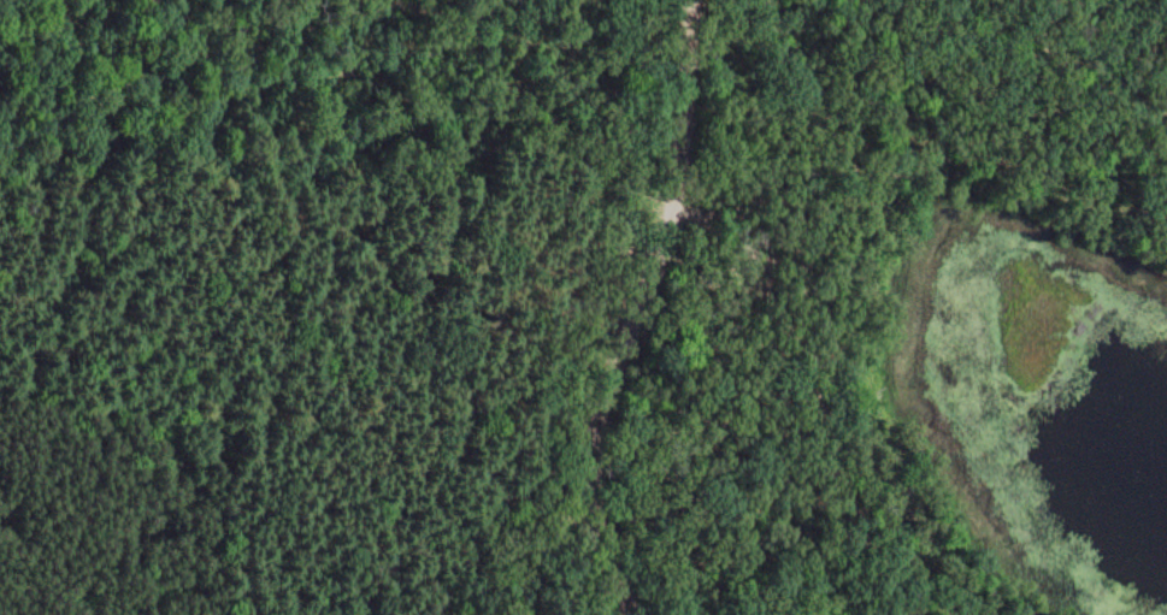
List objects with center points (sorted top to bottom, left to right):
road: (702, 64)
road: (615, 369)

